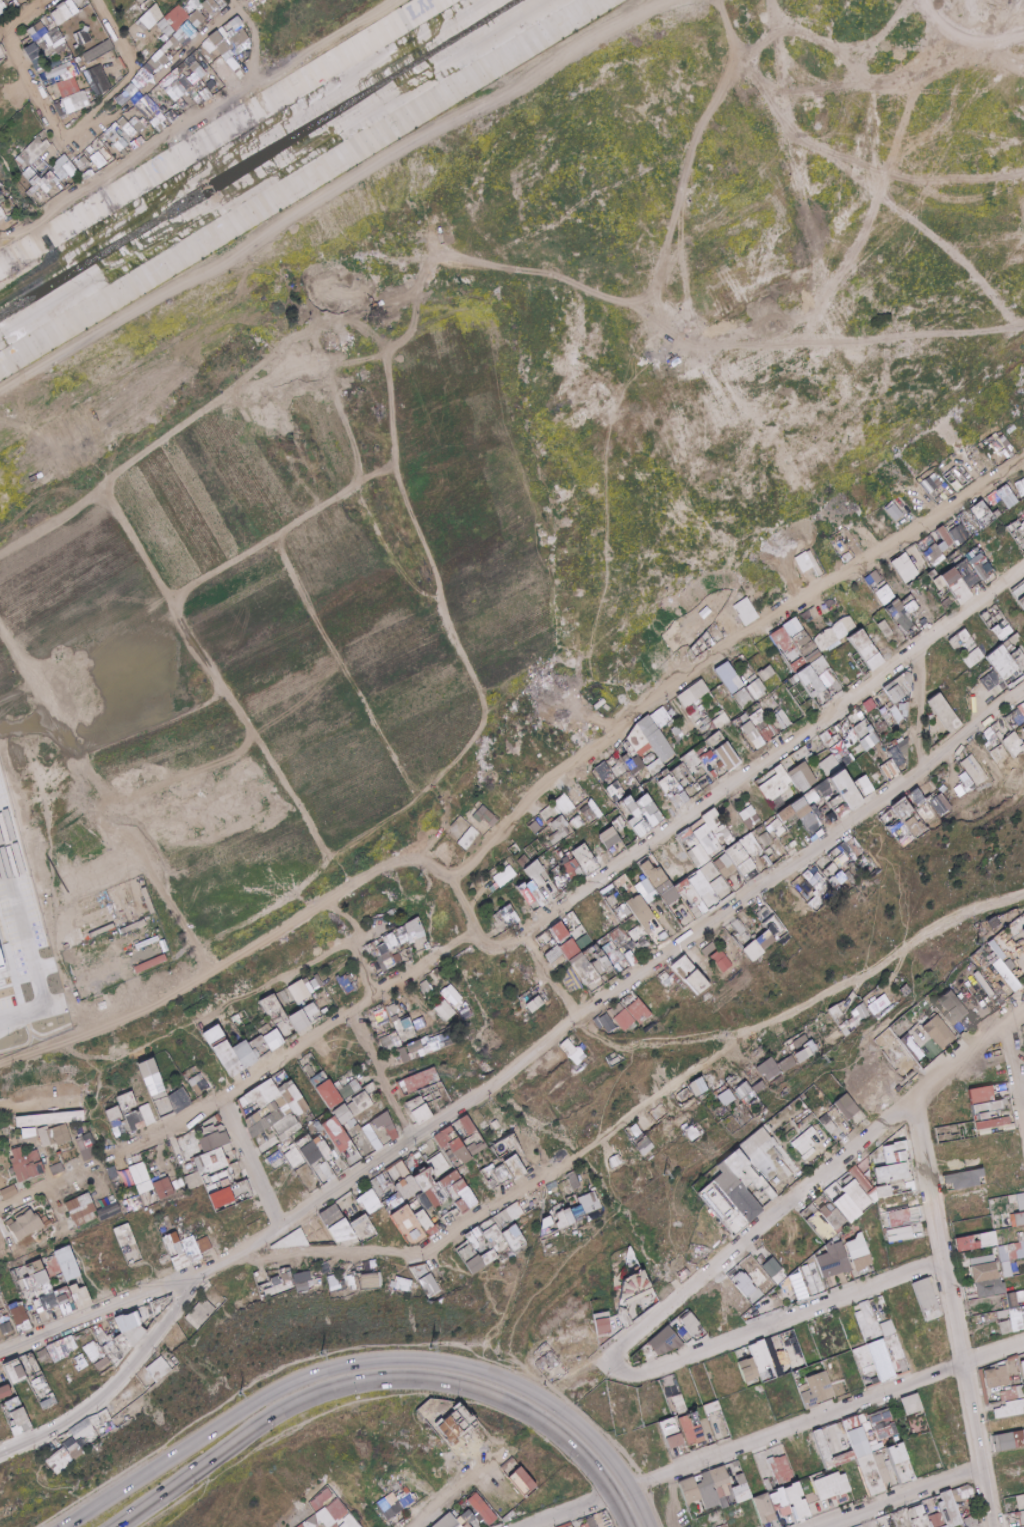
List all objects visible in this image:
crop: (96, 627)
parking lot: (24, 925)
power tower: (970, 942)
power tower: (1020, 999)
power tower: (812, 1057)
power tower: (656, 1177)
power tower: (423, 1348)
power tower: (312, 1354)
power tower: (232, 1394)

